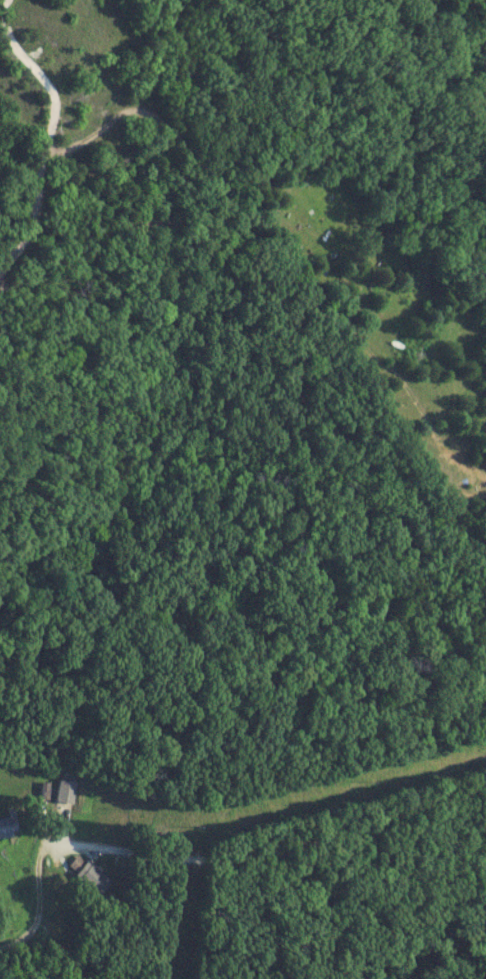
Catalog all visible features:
road: (51, 136)
road: (286, 350)
building: (68, 792)
building: (8, 828)
road: (270, 852)
building: (92, 875)
building: (62, 930)

